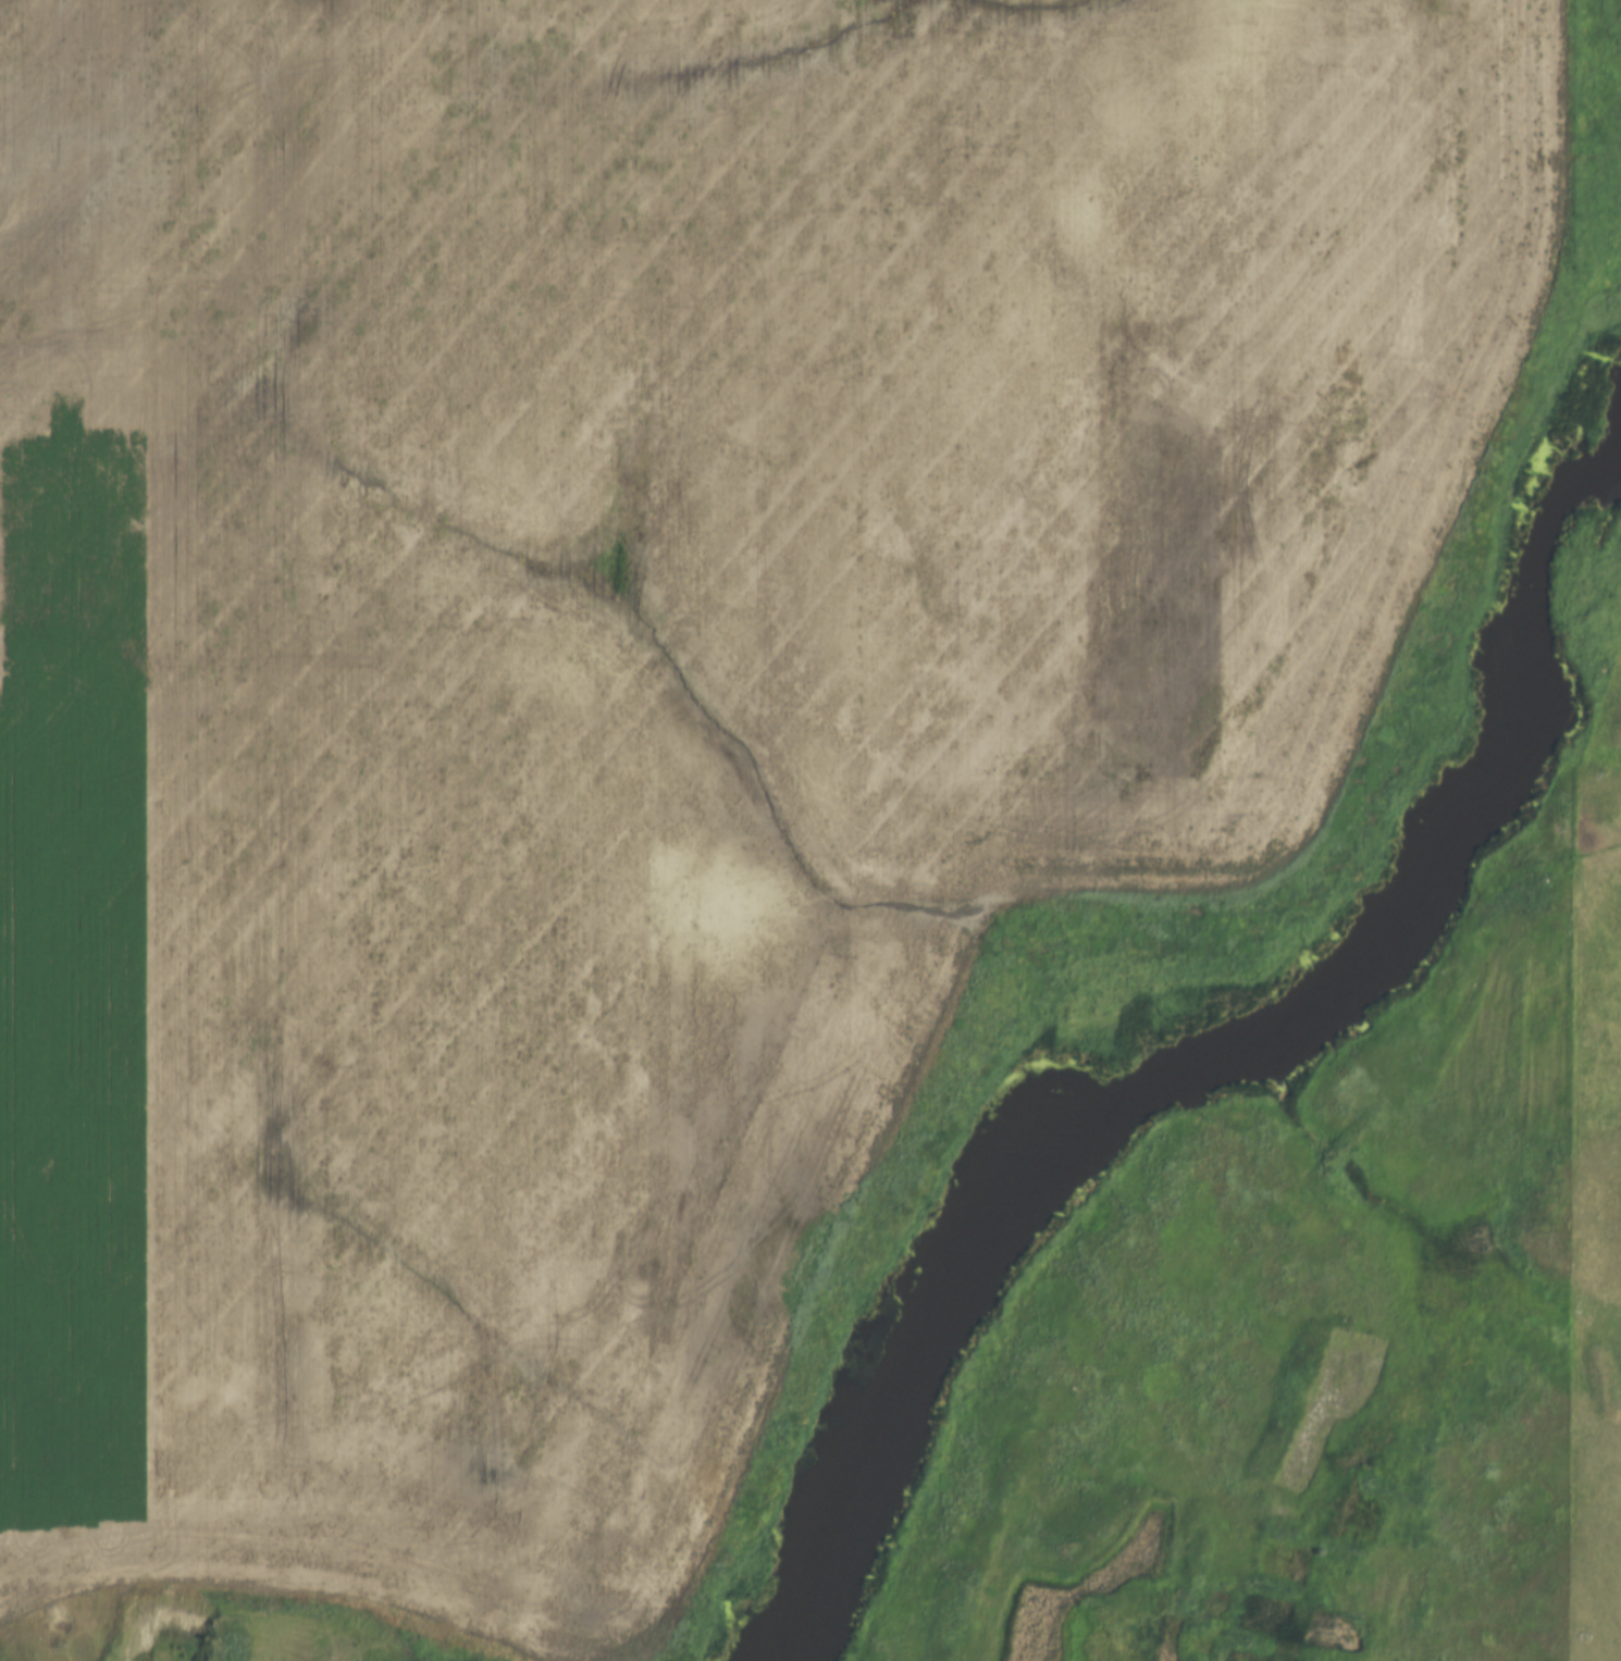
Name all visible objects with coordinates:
river: (1223, 1057)
quarry: (212, 1629)

